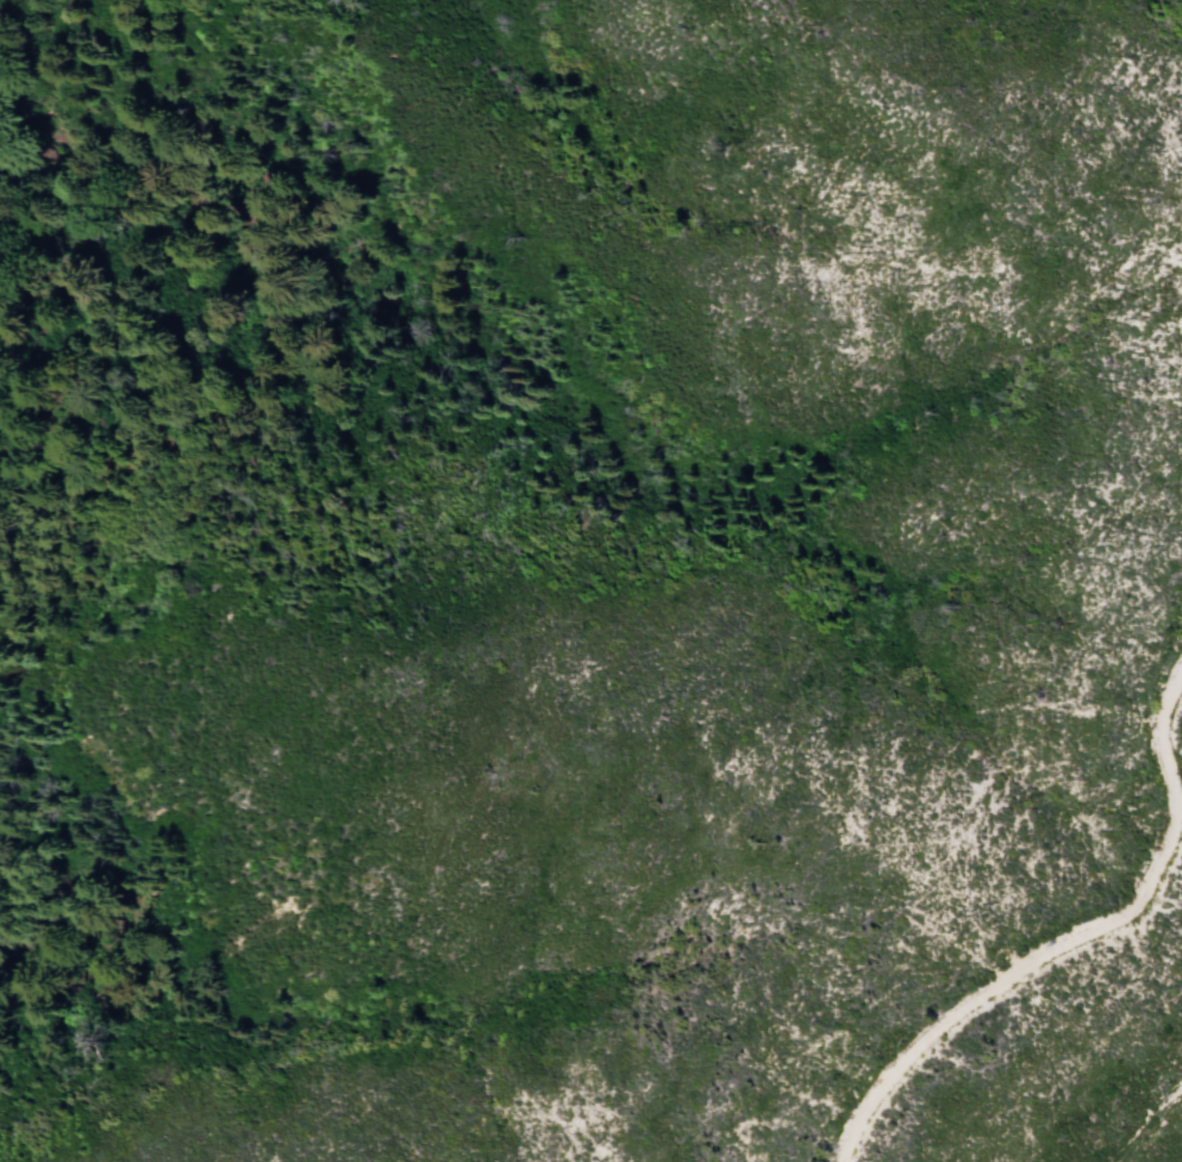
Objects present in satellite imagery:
road: (1074, 939)
road: (1146, 1123)

